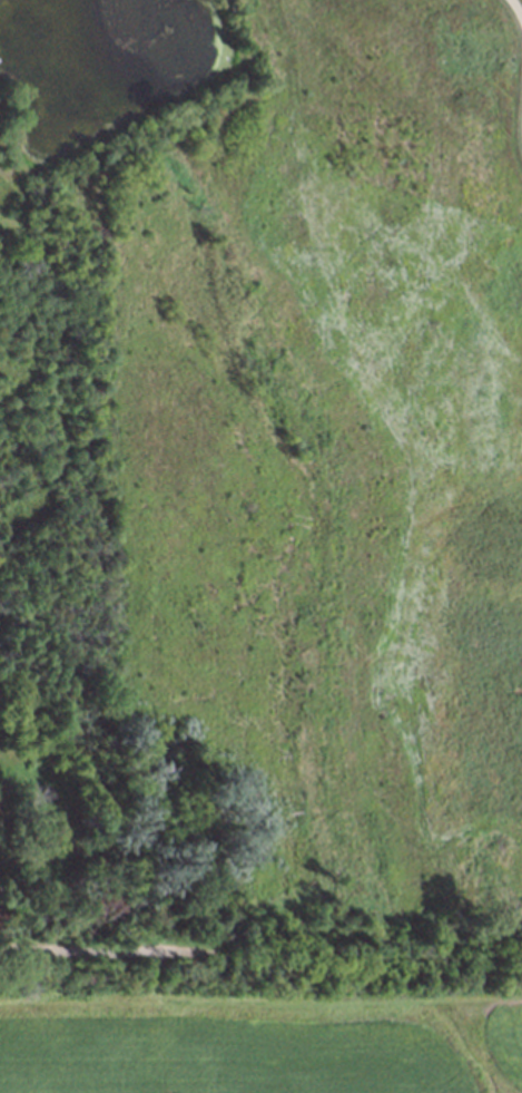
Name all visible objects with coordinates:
road: (515, 7)
road: (109, 945)

